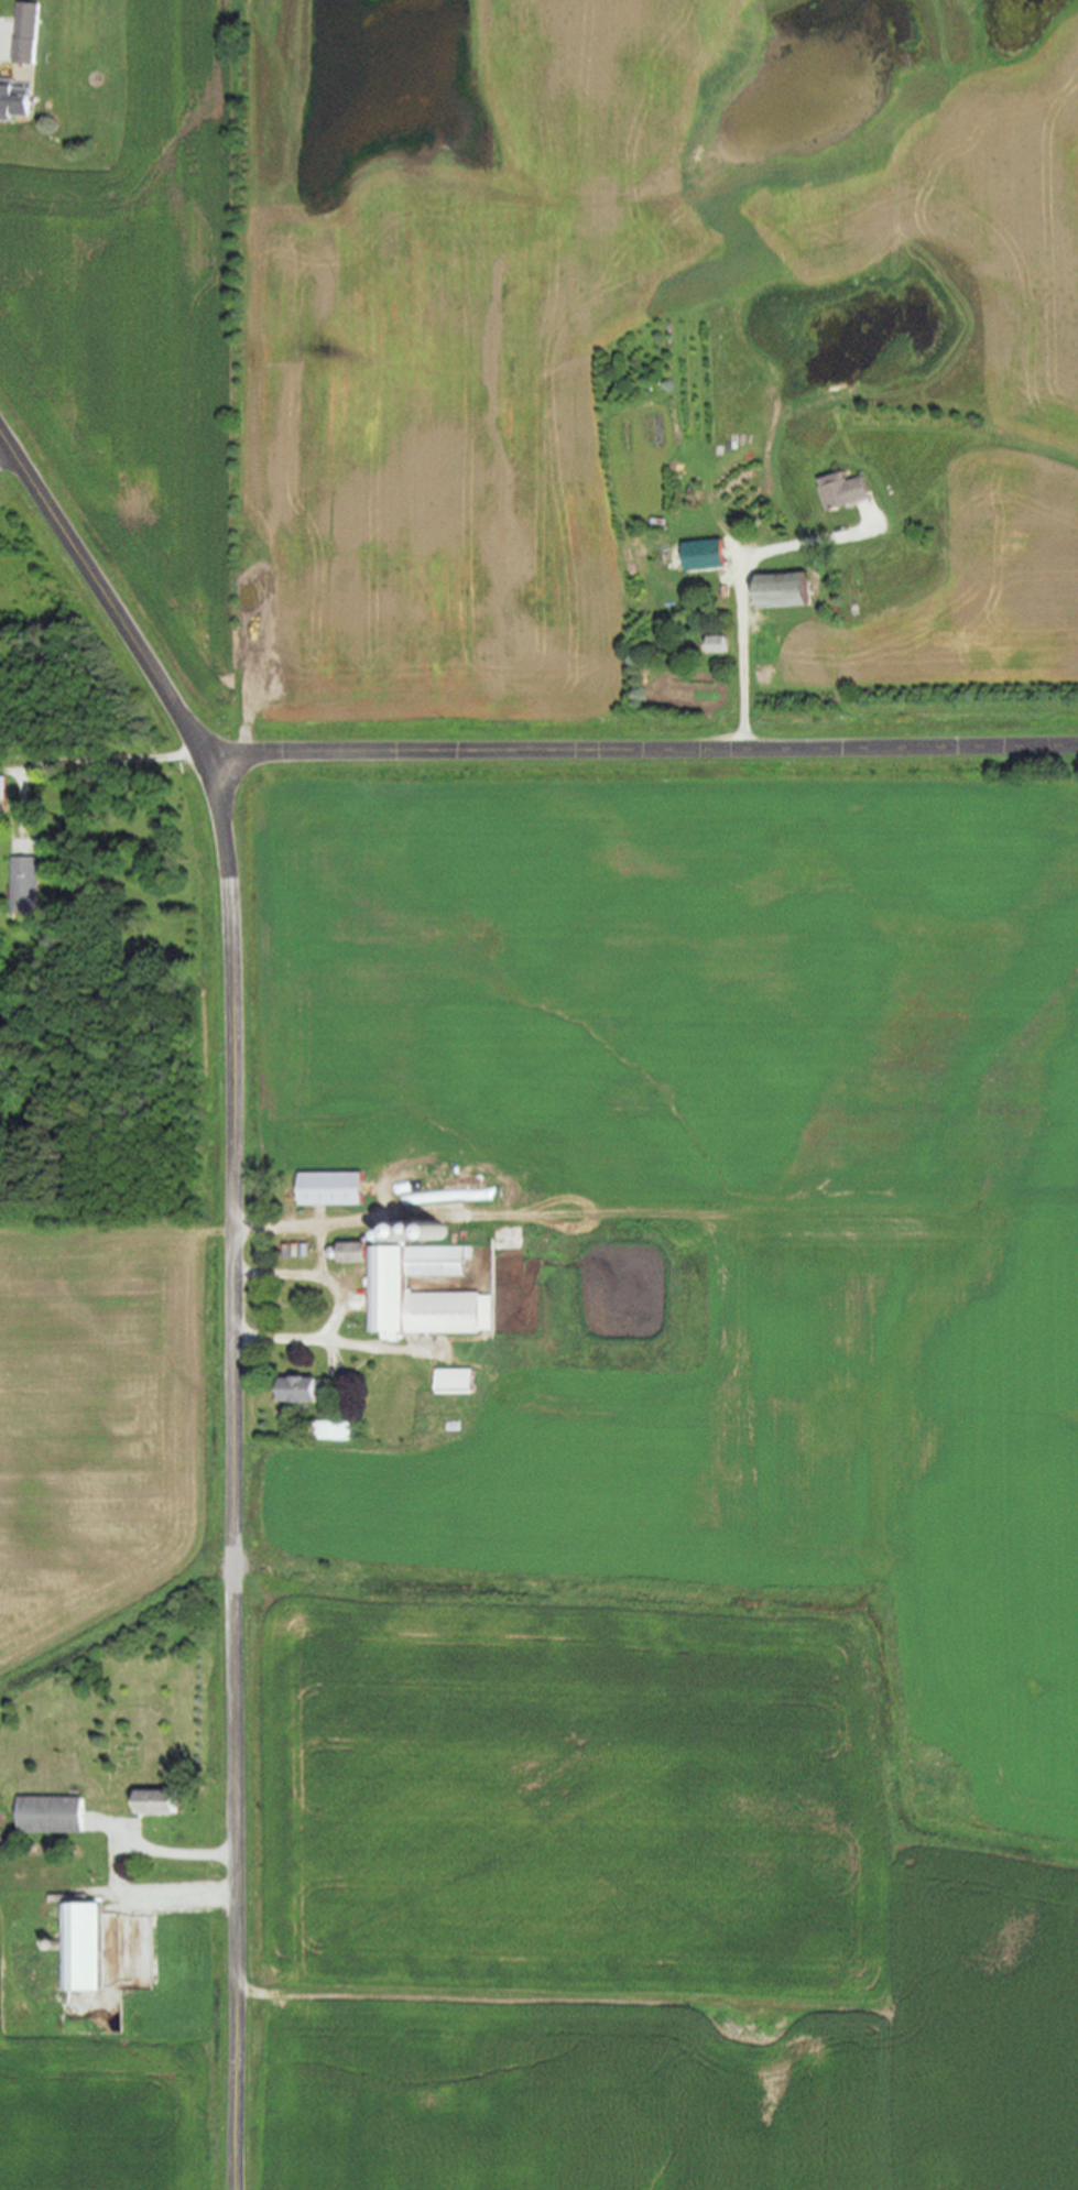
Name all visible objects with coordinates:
building: (24, 35)
building: (13, 103)
road: (6, 450)
building: (839, 492)
building: (700, 557)
road: (741, 591)
building: (778, 592)
building: (715, 646)
road: (641, 750)
road: (86, 759)
building: (2, 794)
building: (25, 885)
building: (324, 1189)
road: (304, 1225)
building: (347, 1253)
road: (317, 1276)
road: (237, 1278)
building: (420, 1293)
road: (320, 1338)
building: (449, 1381)
building: (150, 1804)
building: (48, 1815)
road: (117, 1871)
building: (78, 1948)

